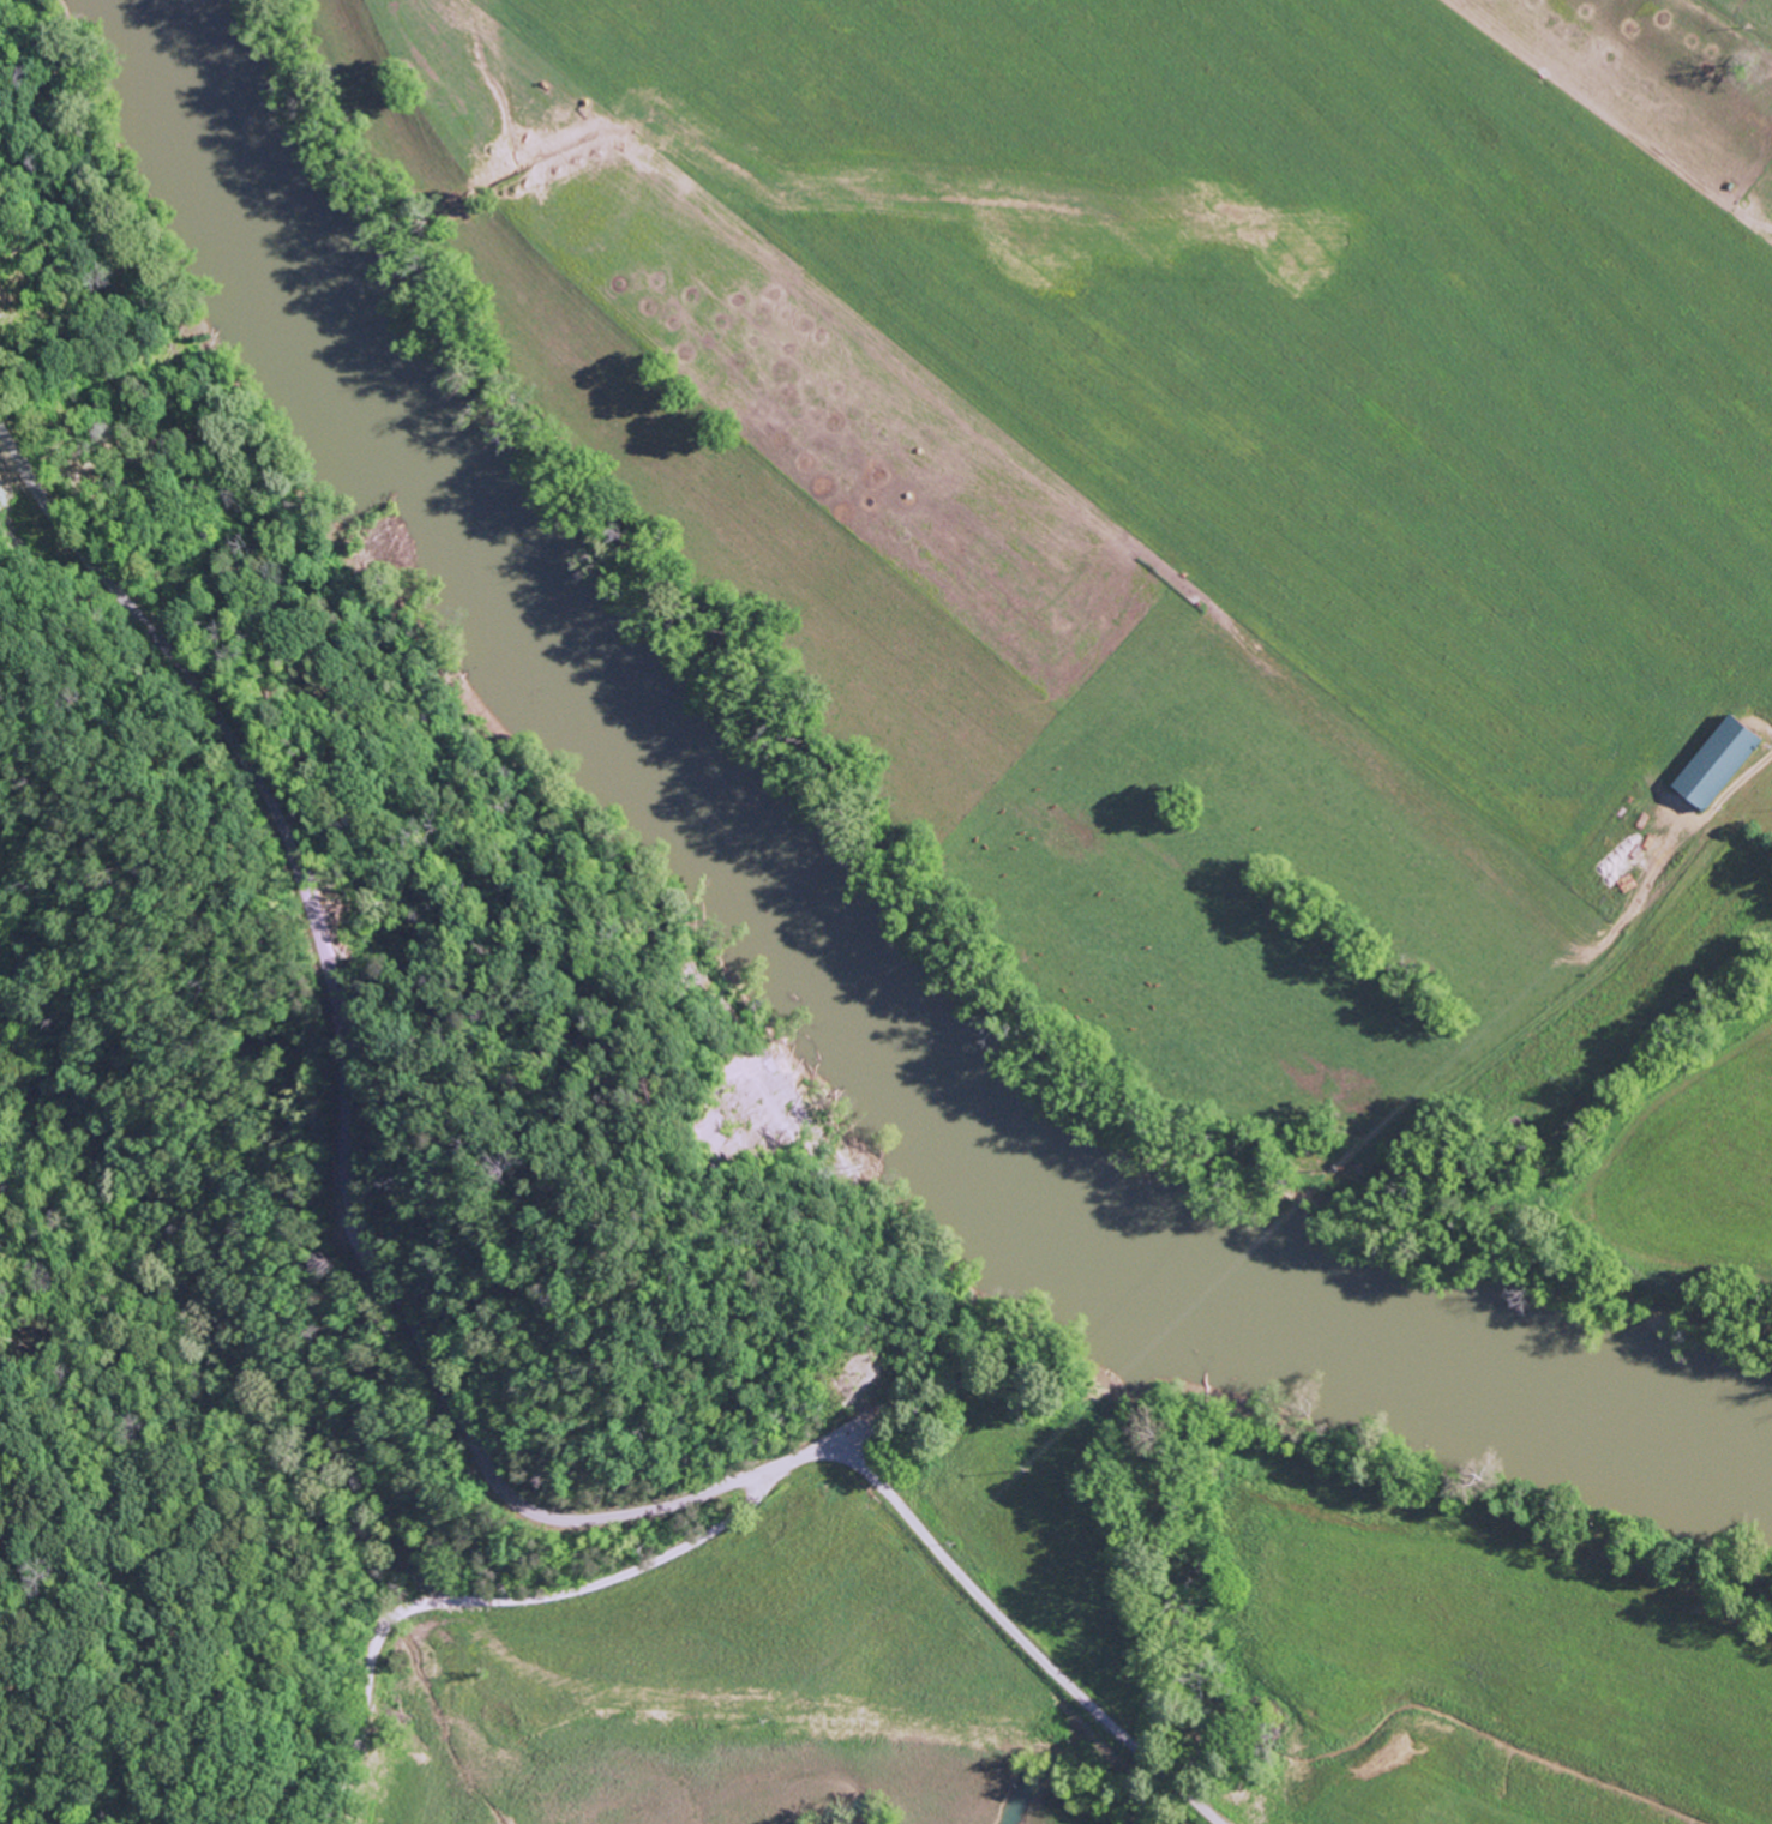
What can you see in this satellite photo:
building: (1725, 761)
river: (785, 935)
road: (340, 1054)
road: (481, 1596)
road: (998, 1618)

